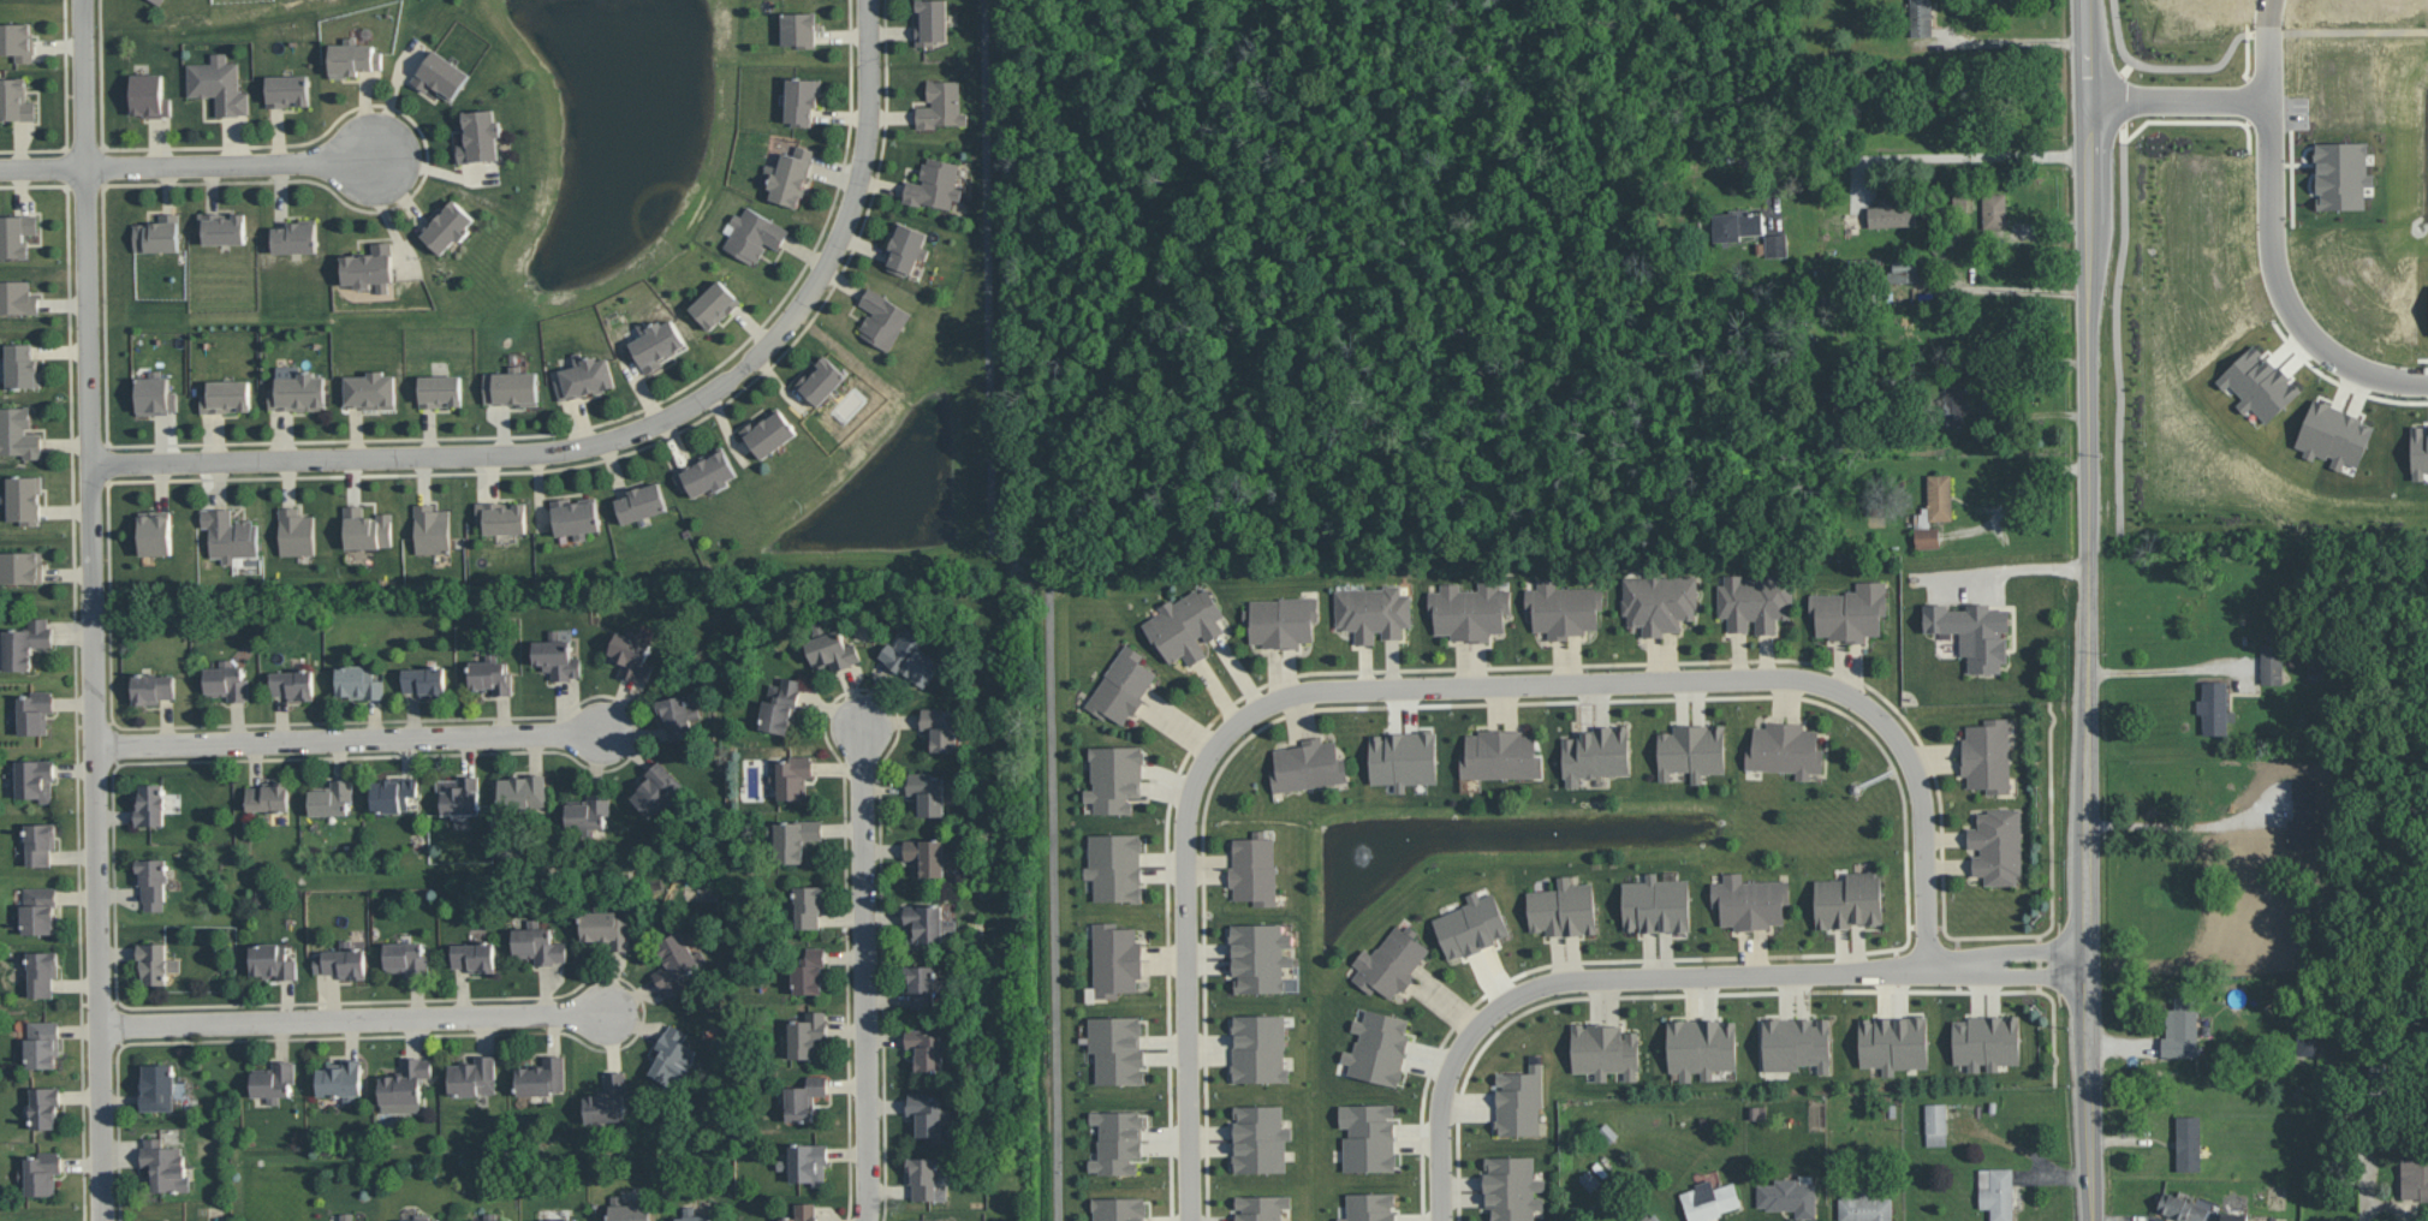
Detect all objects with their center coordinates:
building: (159, 1)
building: (1921, 18)
building: (932, 22)
building: (799, 29)
road: (2239, 34)
building: (17, 40)
road: (2017, 40)
road: (2082, 50)
road: (2268, 50)
building: (352, 58)
building: (440, 75)
building: (219, 84)
building: (287, 90)
building: (148, 95)
building: (16, 99)
building: (802, 100)
road: (2176, 102)
building: (941, 105)
road: (2083, 127)
building: (480, 136)
road: (1935, 154)
road: (204, 167)
road: (1076, 168)
building: (2343, 174)
building: (790, 175)
road: (2084, 180)
building: (938, 184)
road: (1170, 189)
building: (1994, 210)
building: (1892, 213)
building: (1736, 225)
building: (447, 226)
building: (222, 227)
road: (1362, 232)
building: (16, 233)
building: (157, 234)
building: (754, 234)
building: (294, 237)
building: (1775, 244)
building: (907, 248)
building: (370, 267)
building: (1904, 269)
park: (1397, 278)
road: (2281, 286)
road: (2023, 288)
road: (2115, 292)
building: (17, 297)
building: (715, 304)
building: (882, 318)
building: (656, 343)
building: (22, 365)
building: (584, 376)
building: (821, 380)
building: (511, 386)
building: (370, 389)
building: (440, 391)
building: (299, 392)
building: (155, 393)
building: (226, 395)
building: (1952, 400)
building: (768, 431)
building: (18, 433)
building: (2334, 435)
road: (630, 436)
road: (2089, 441)
building: (2418, 452)
building: (707, 472)
road: (1117, 486)
building: (24, 499)
building: (641, 502)
building: (1934, 511)
building: (576, 516)
building: (502, 517)
building: (365, 528)
building: (432, 529)
building: (296, 531)
building: (155, 532)
building: (230, 535)
building: (20, 566)
road: (2015, 568)
road: (1051, 596)
building: (1659, 601)
building: (1755, 601)
building: (1563, 608)
road: (94, 609)
building: (1469, 610)
building: (1373, 612)
building: (1850, 612)
building: (1280, 620)
building: (1186, 625)
building: (1974, 632)
building: (25, 643)
building: (832, 650)
building: (557, 655)
building: (631, 655)
building: (910, 657)
building: (2272, 663)
road: (2155, 672)
building: (490, 674)
building: (226, 680)
building: (424, 680)
building: (358, 681)
building: (293, 684)
building: (1123, 685)
building: (153, 687)
road: (1436, 687)
building: (780, 705)
building: (2214, 708)
building: (35, 711)
building: (677, 716)
building: (940, 727)
road: (349, 740)
building: (1785, 749)
building: (1691, 751)
road: (2087, 751)
building: (1595, 754)
building: (1500, 755)
building: (1987, 756)
building: (1403, 758)
building: (1308, 766)
building: (792, 776)
building: (34, 778)
building: (1114, 779)
building: (656, 788)
building: (523, 792)
building: (393, 793)
building: (928, 793)
building: (269, 796)
building: (332, 797)
building: (459, 798)
building: (150, 804)
building: (588, 811)
building: (2303, 814)
road: (2170, 828)
building: (796, 839)
building: (40, 842)
building: (1996, 846)
building: (928, 856)
building: (1115, 866)
building: (1254, 869)
building: (151, 881)
building: (1849, 900)
building: (1750, 901)
building: (809, 905)
building: (1656, 905)
building: (1563, 909)
building: (38, 910)
building: (923, 924)
building: (1471, 925)
building: (606, 927)
building: (538, 943)
building: (474, 955)
building: (406, 957)
building: (1260, 958)
building: (1115, 959)
building: (272, 960)
building: (343, 960)
building: (156, 961)
building: (1391, 961)
building: (677, 963)
building: (810, 971)
building: (42, 972)
road: (867, 975)
road: (1672, 976)
building: (921, 985)
road: (353, 1020)
road: (2084, 1024)
building: (2180, 1028)
building: (808, 1034)
building: (1987, 1042)
building: (42, 1043)
building: (1796, 1043)
building: (1893, 1043)
building: (1379, 1047)
building: (1701, 1047)
building: (926, 1048)
building: (1117, 1048)
building: (1260, 1048)
building: (1605, 1050)
building: (672, 1055)
building: (474, 1076)
building: (541, 1077)
building: (340, 1079)
building: (274, 1080)
building: (404, 1085)
building: (157, 1086)
building: (804, 1098)
building: (608, 1100)
building: (1519, 1101)
building: (44, 1106)
building: (927, 1113)
building: (1935, 1124)
building: (1368, 1137)
building: (1260, 1138)
building: (1118, 1142)
building: (2188, 1143)
building: (809, 1163)
building: (165, 1166)
building: (41, 1173)
building: (923, 1177)
building: (2414, 1179)
building: (1590, 1180)
building: (1512, 1187)
building: (1996, 1192)
building: (1789, 1196)
building: (1709, 1199)
building: (1864, 1205)
building: (1260, 1207)
building: (1370, 1207)
building: (2182, 1208)
building: (1119, 1209)
building: (629, 1210)
building: (803, 1211)
building: (692, 1215)
building: (347, 1216)
building: (2233, 1216)
building: (422, 1217)
building: (492, 1217)
building: (1653, 1217)
building: (560, 1219)
building: (926, 1220)

